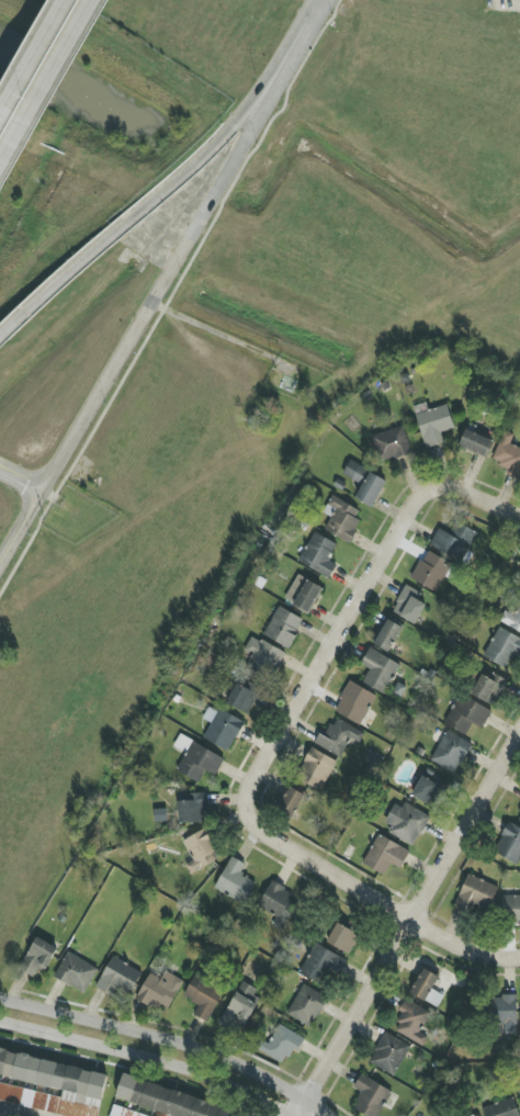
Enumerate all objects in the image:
road: (313, 12)
road: (32, 55)
road: (47, 86)
road: (161, 189)
road: (180, 261)
road: (221, 334)
building: (433, 425)
building: (476, 443)
building: (391, 444)
building: (507, 454)
building: (354, 471)
road: (22, 482)
building: (371, 489)
road: (464, 491)
building: (342, 518)
road: (22, 530)
building: (454, 541)
building: (319, 555)
building: (431, 571)
building: (303, 594)
building: (409, 605)
building: (512, 617)
building: (283, 628)
building: (388, 635)
building: (502, 649)
building: (263, 657)
road: (325, 660)
building: (380, 672)
building: (489, 688)
building: (244, 698)
building: (355, 703)
building: (466, 715)
building: (222, 729)
building: (338, 737)
building: (451, 752)
building: (197, 759)
building: (316, 769)
building: (429, 789)
building: (291, 802)
building: (192, 809)
building: (518, 816)
building: (406, 823)
building: (509, 844)
building: (201, 852)
building: (385, 855)
building: (235, 881)
building: (476, 894)
road: (375, 900)
building: (279, 905)
building: (510, 910)
road: (407, 922)
building: (342, 938)
building: (38, 957)
building: (321, 965)
building: (76, 972)
building: (118, 978)
building: (427, 988)
building: (159, 991)
building: (203, 997)
building: (307, 1006)
building: (240, 1008)
building: (506, 1013)
building: (412, 1022)
road: (169, 1042)
building: (283, 1044)
building: (389, 1055)
road: (145, 1058)
building: (52, 1085)
building: (371, 1097)
building: (168, 1100)
building: (502, 1108)
road: (10, 1113)
building: (123, 1113)
building: (477, 1115)

